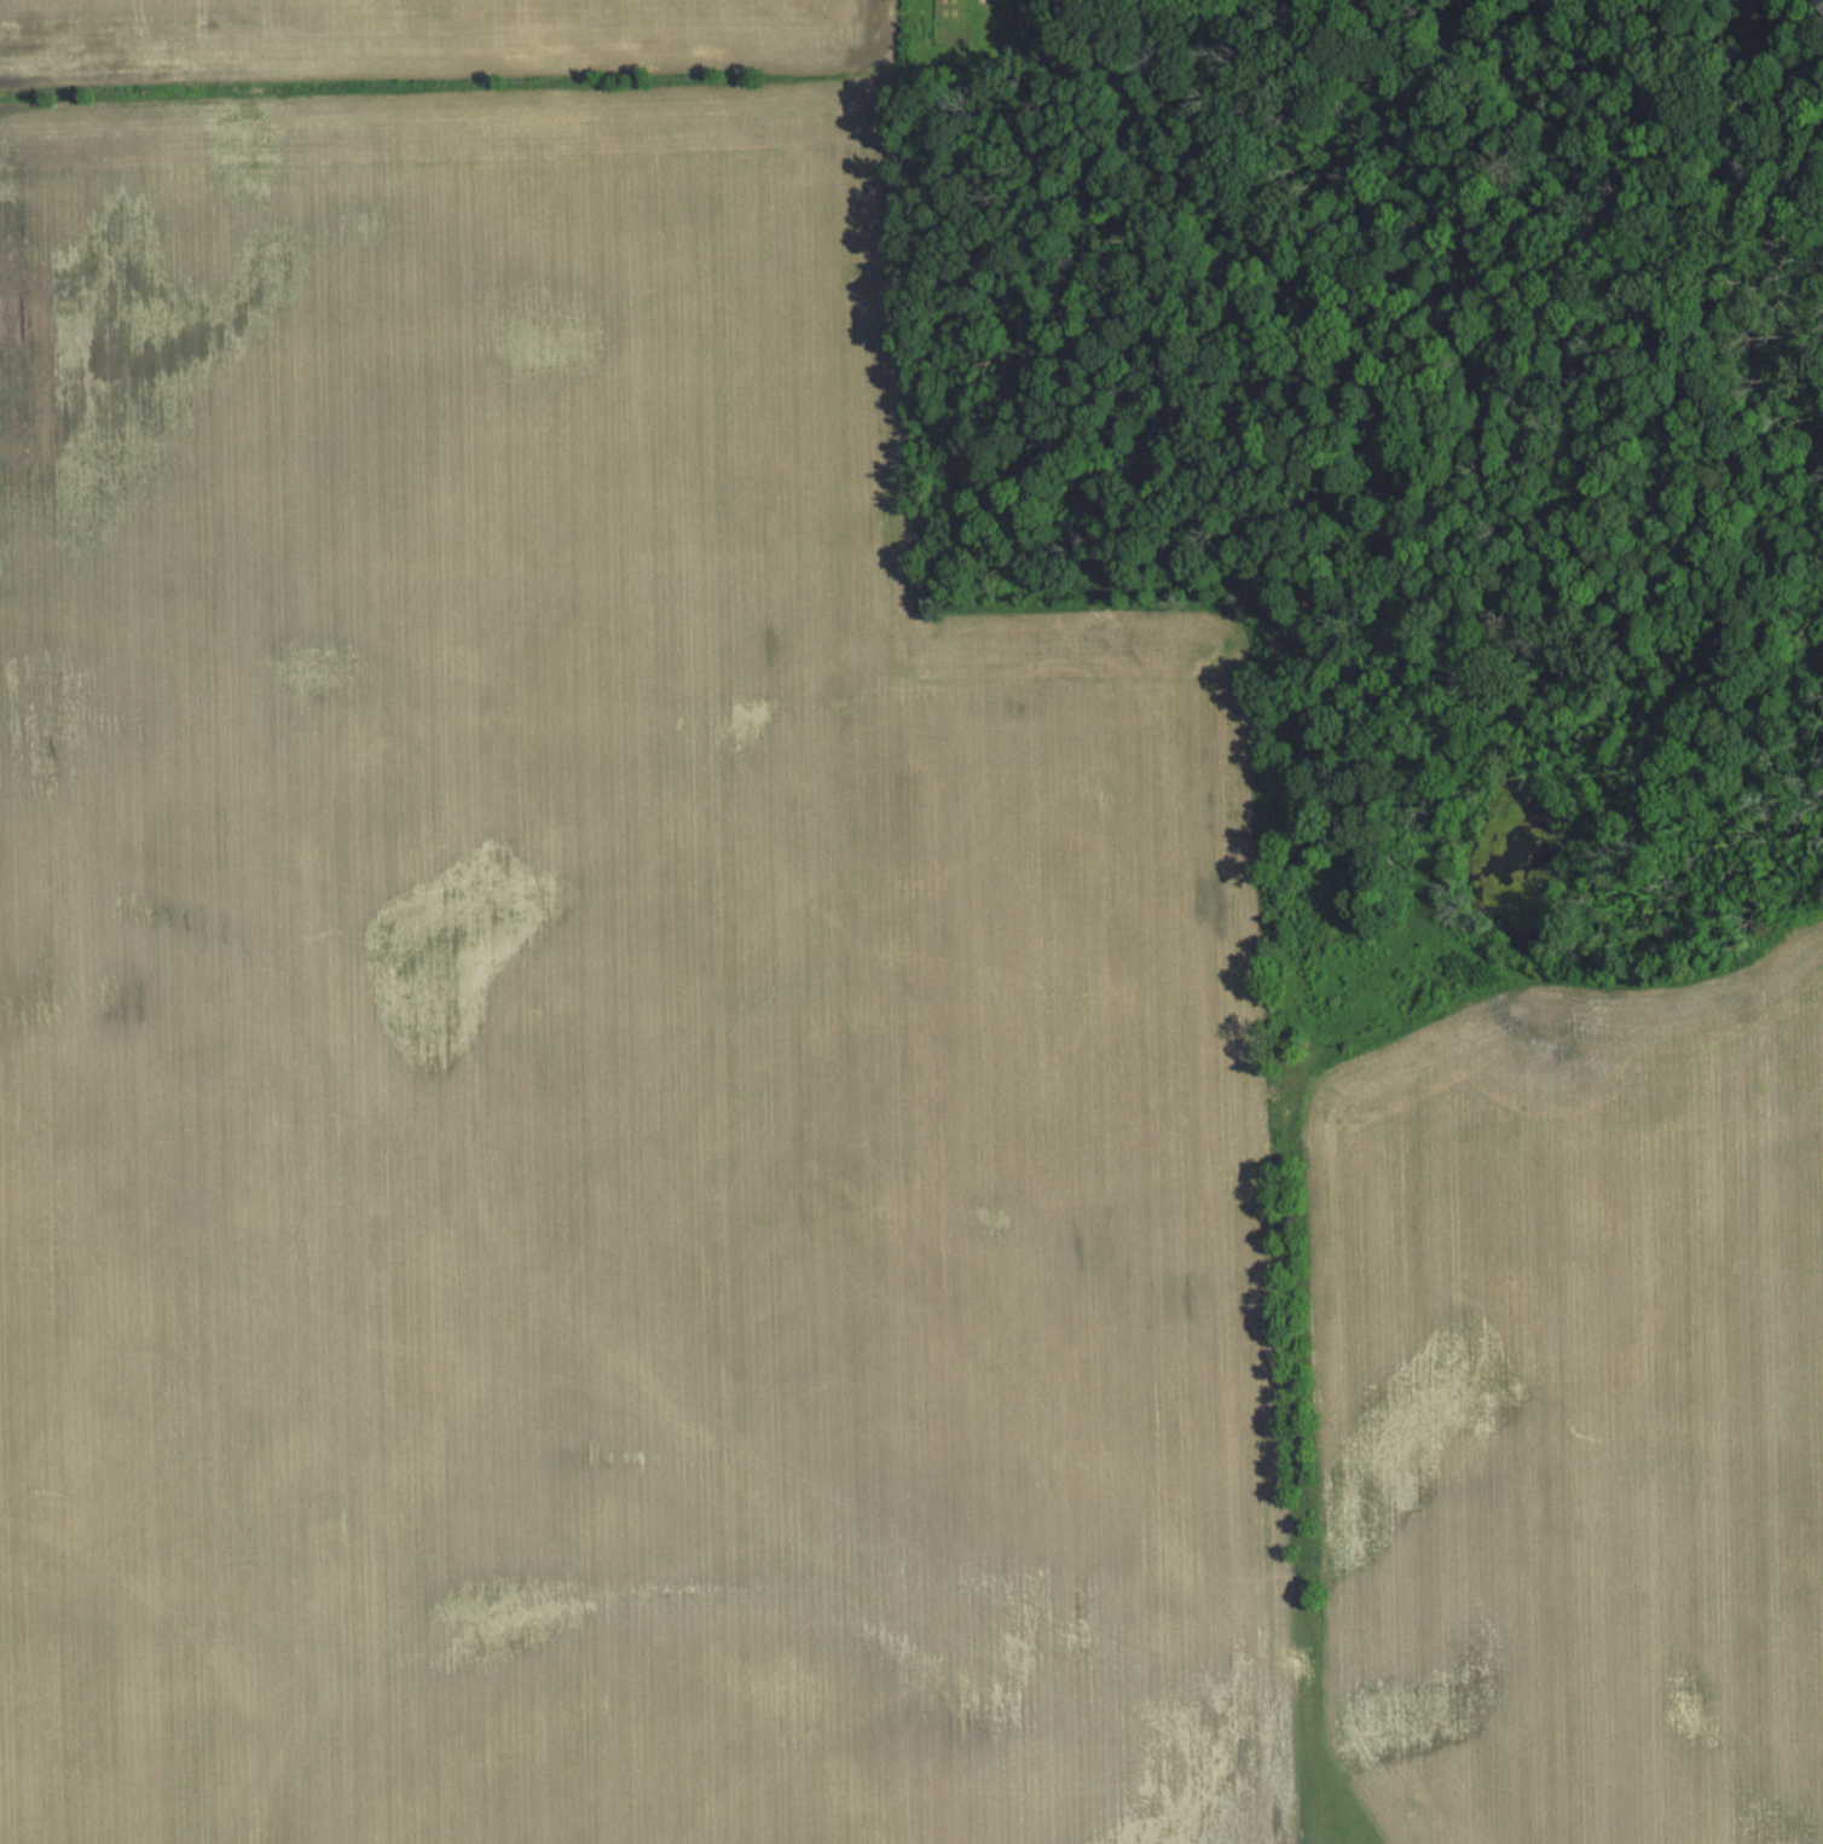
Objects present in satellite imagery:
building: (1758, 1)

